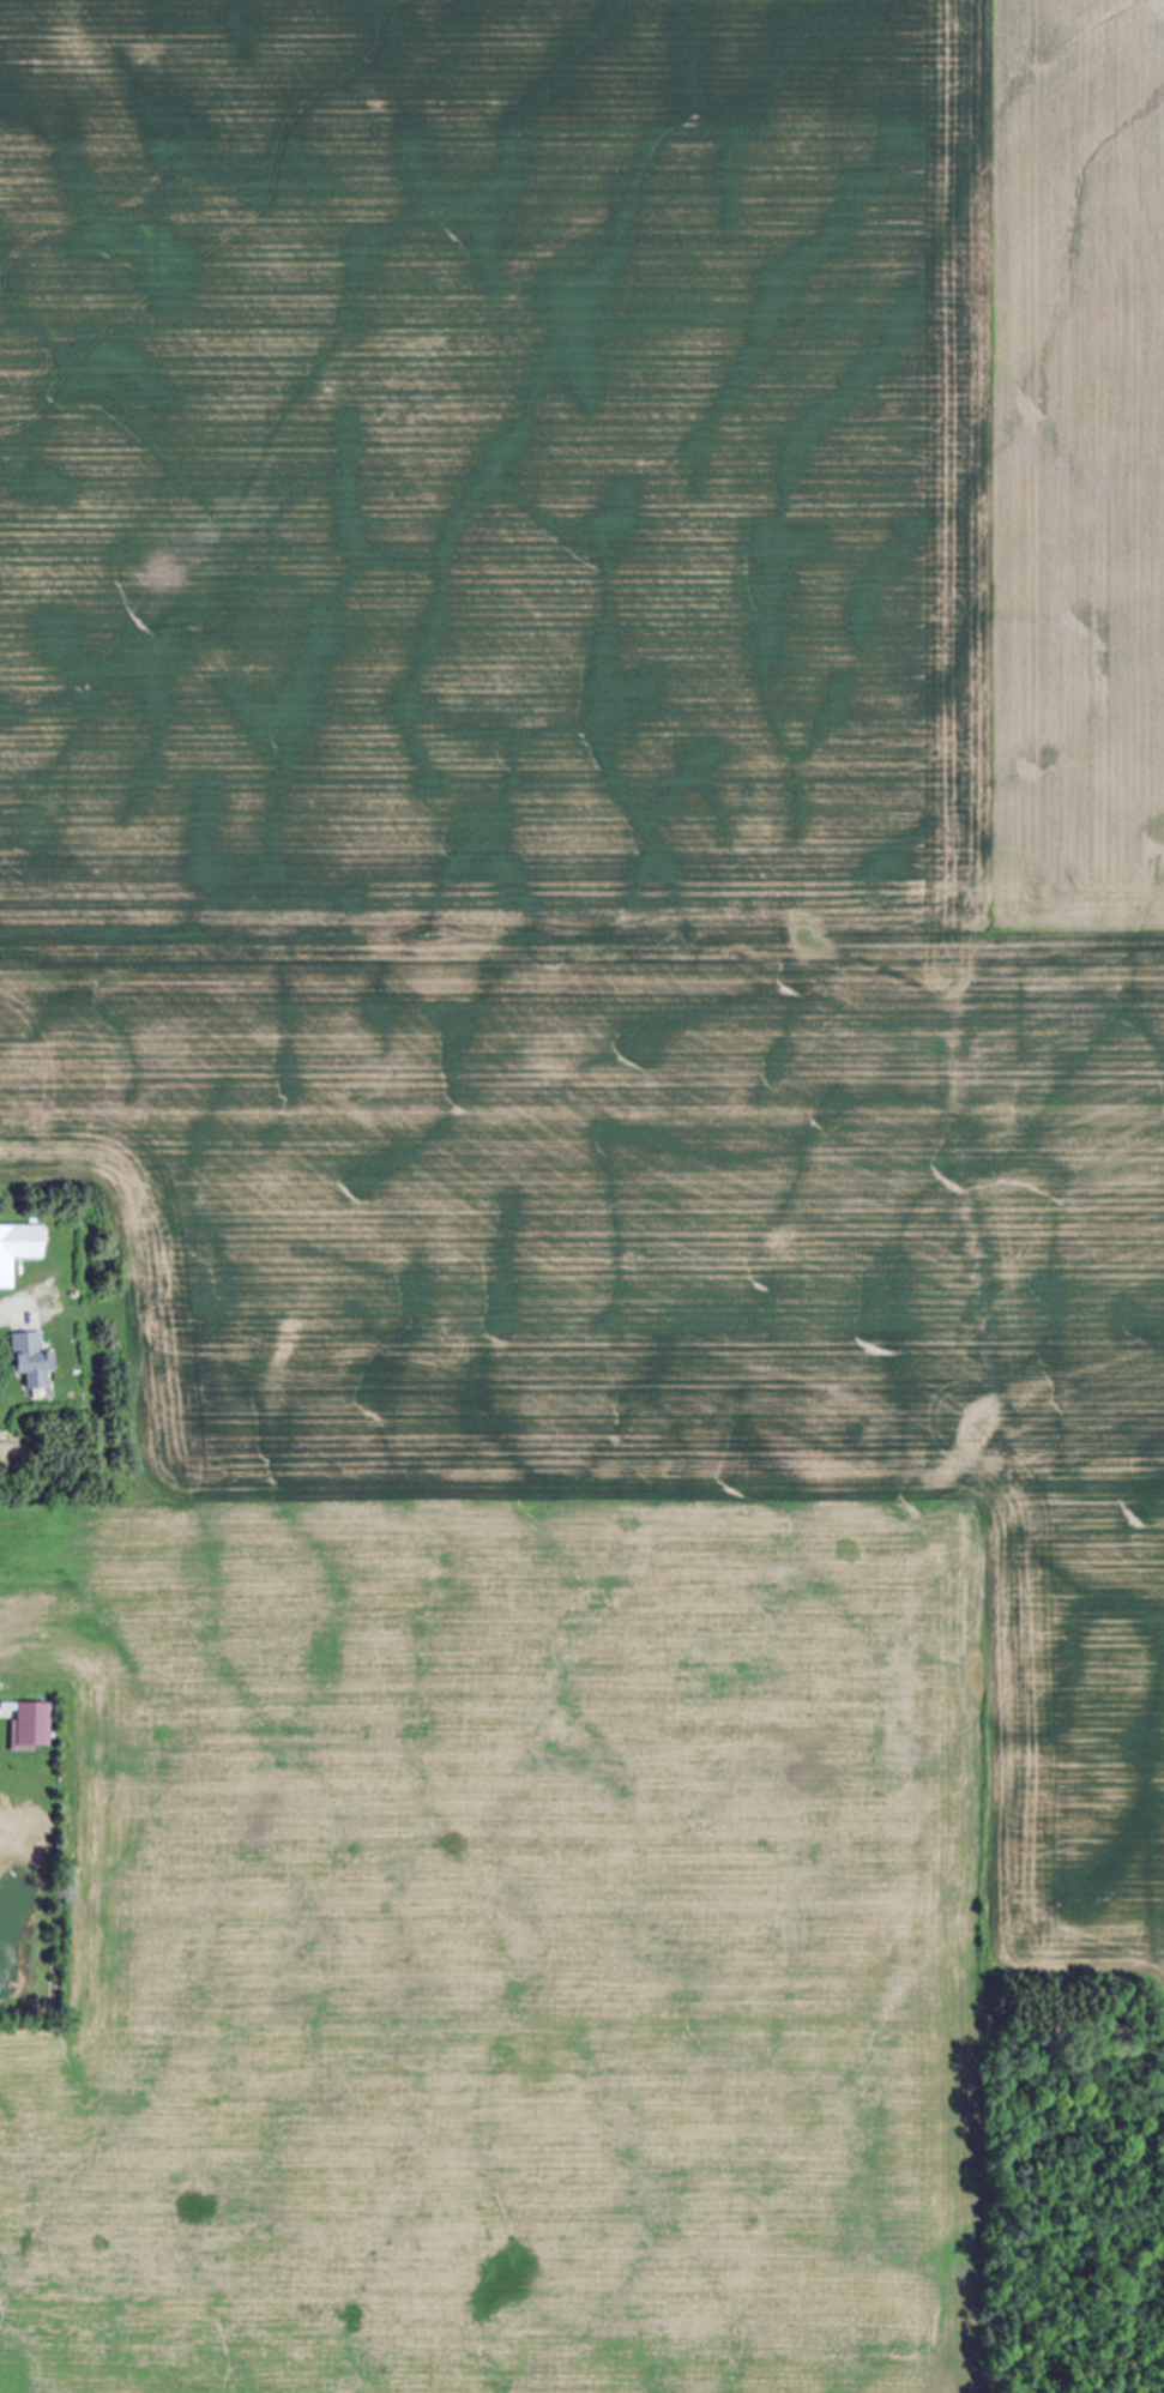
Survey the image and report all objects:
building: (19, 1250)
road: (20, 1307)
building: (34, 1361)
building: (31, 1728)

